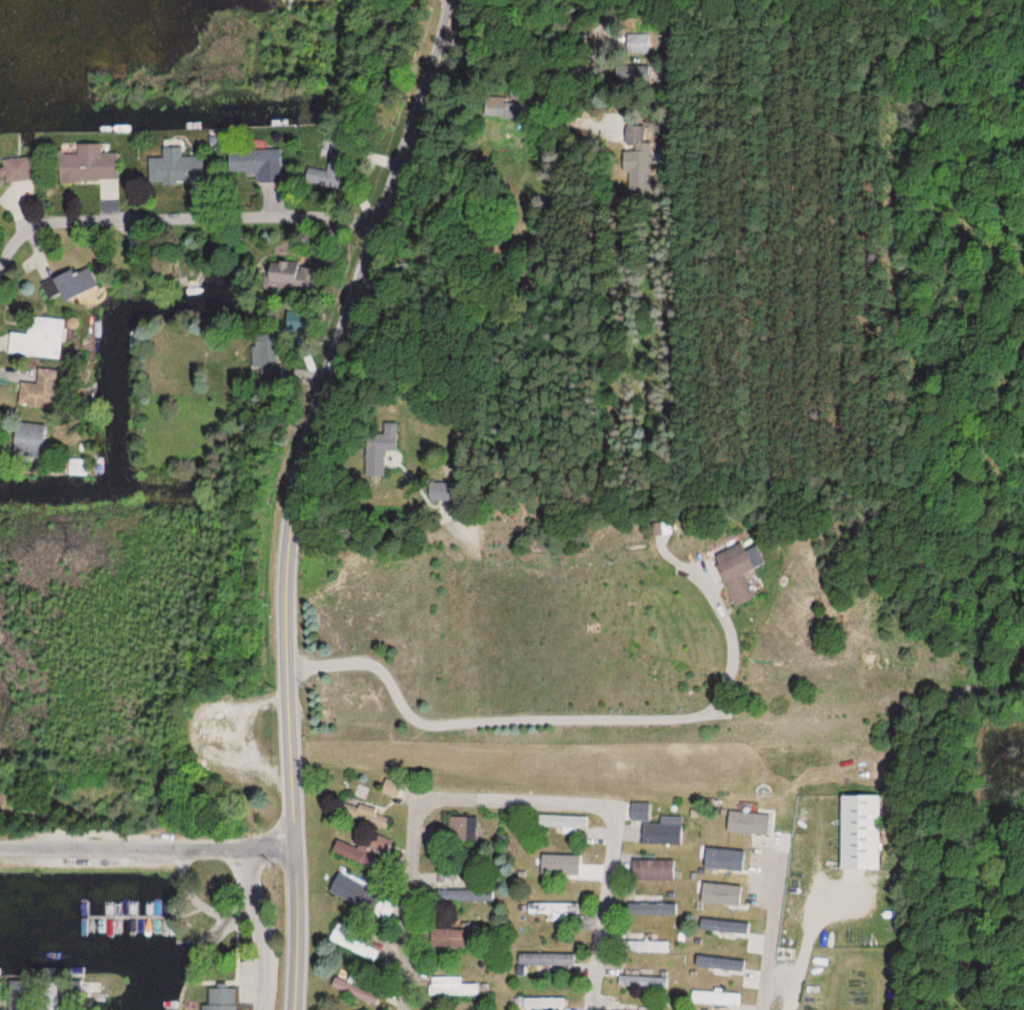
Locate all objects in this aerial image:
building: (641, 47)
building: (643, 154)
building: (254, 161)
building: (87, 164)
building: (174, 166)
building: (15, 169)
building: (320, 176)
road: (176, 219)
building: (290, 276)
building: (73, 282)
building: (39, 338)
building: (270, 355)
building: (39, 390)
building: (28, 439)
building: (379, 449)
building: (82, 467)
building: (441, 491)
road: (297, 494)
building: (733, 576)
road: (571, 719)
building: (207, 730)
building: (368, 816)
building: (563, 822)
building: (463, 829)
building: (859, 832)
building: (659, 833)
road: (147, 848)
building: (365, 849)
road: (431, 858)
building: (559, 860)
building: (652, 870)
road: (609, 877)
building: (465, 894)
building: (386, 908)
building: (650, 908)
building: (553, 909)
road: (225, 929)
road: (771, 934)
building: (450, 938)
building: (358, 941)
building: (645, 946)
building: (548, 959)
building: (642, 981)
building: (452, 986)
building: (356, 987)
building: (714, 998)
building: (219, 999)
building: (541, 1002)

